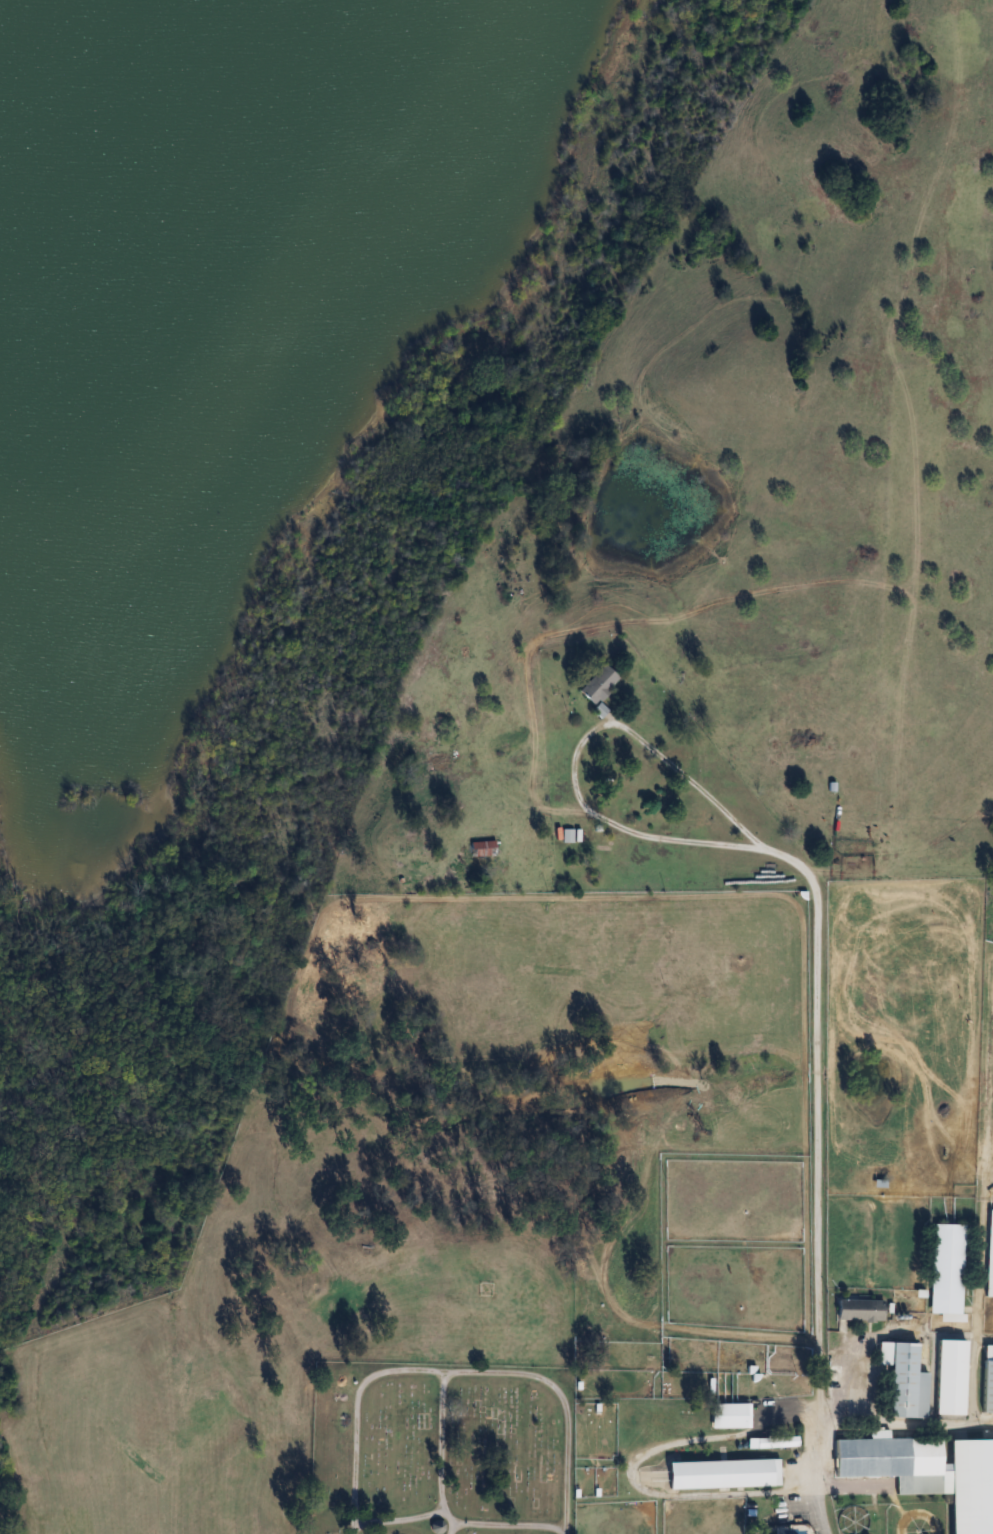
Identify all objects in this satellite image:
building: (169, 190)
building: (598, 684)
road: (675, 769)
building: (567, 836)
building: (417, 846)
building: (482, 848)
road: (817, 1049)
building: (990, 1255)
building: (947, 1271)
building: (860, 1310)
building: (951, 1377)
building: (904, 1380)
building: (988, 1380)
building: (730, 1415)
road: (902, 1422)
building: (772, 1442)
park: (442, 1449)
road: (635, 1470)
building: (928, 1472)
building: (724, 1474)

